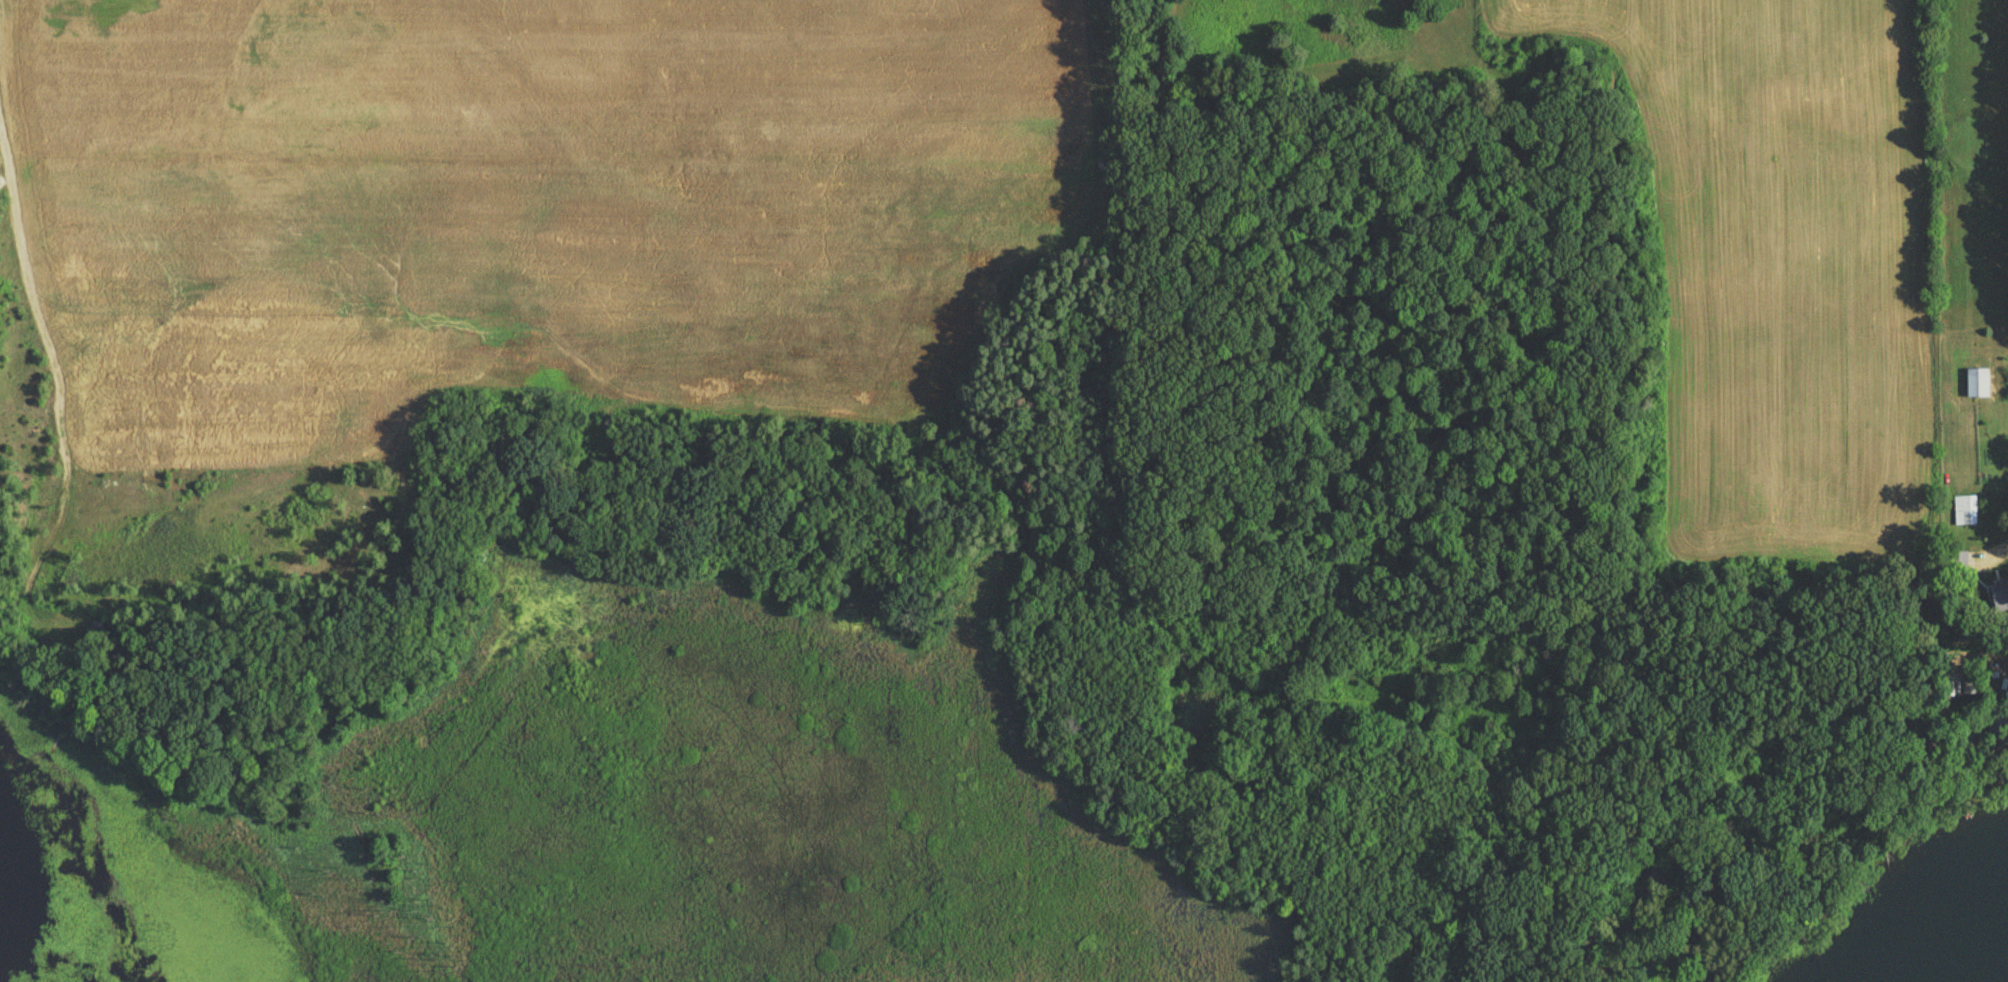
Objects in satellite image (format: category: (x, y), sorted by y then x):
building: (1981, 386)
building: (1966, 513)
road: (1993, 551)
road: (1975, 654)

